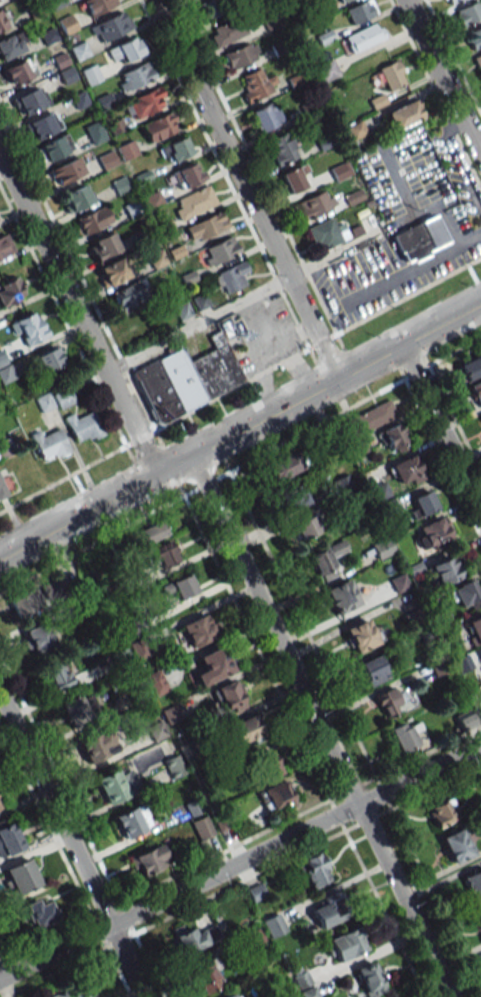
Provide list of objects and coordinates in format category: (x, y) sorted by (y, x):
building: (342, 0)
building: (451, 1)
building: (98, 5)
building: (215, 7)
building: (360, 11)
building: (468, 13)
building: (2, 21)
building: (67, 24)
building: (111, 26)
building: (227, 31)
building: (363, 37)
building: (474, 38)
building: (12, 45)
building: (125, 50)
building: (79, 51)
building: (240, 55)
building: (64, 68)
building: (326, 70)
building: (19, 71)
building: (392, 75)
building: (134, 77)
road: (443, 78)
building: (255, 84)
building: (30, 101)
building: (145, 102)
building: (404, 114)
building: (266, 116)
building: (42, 126)
building: (159, 126)
building: (355, 130)
building: (95, 132)
building: (53, 148)
building: (281, 148)
building: (175, 149)
building: (127, 150)
building: (67, 170)
building: (340, 171)
building: (187, 175)
building: (292, 179)
road: (245, 188)
building: (76, 197)
building: (193, 202)
building: (315, 204)
building: (93, 220)
building: (206, 226)
building: (324, 234)
building: (418, 238)
building: (4, 245)
building: (104, 247)
building: (220, 250)
road: (412, 269)
building: (113, 271)
building: (230, 277)
building: (10, 291)
building: (130, 294)
road: (240, 300)
road: (77, 314)
building: (30, 329)
building: (48, 360)
building: (470, 368)
building: (6, 374)
building: (186, 379)
road: (240, 384)
building: (476, 392)
building: (63, 399)
building: (371, 417)
building: (82, 427)
road: (440, 427)
road: (240, 428)
building: (393, 436)
building: (49, 444)
building: (290, 463)
building: (405, 470)
building: (2, 490)
building: (294, 498)
building: (423, 503)
building: (306, 527)
building: (434, 531)
building: (148, 533)
building: (383, 549)
building: (163, 554)
building: (323, 563)
building: (445, 570)
building: (398, 583)
building: (183, 586)
building: (464, 594)
building: (341, 596)
building: (23, 604)
building: (199, 629)
building: (474, 629)
building: (361, 635)
building: (38, 639)
building: (479, 656)
building: (213, 665)
building: (373, 670)
building: (57, 676)
building: (229, 697)
building: (389, 701)
building: (73, 710)
building: (464, 719)
road: (320, 726)
building: (245, 730)
building: (403, 736)
building: (97, 746)
building: (264, 766)
building: (173, 767)
building: (114, 785)
building: (277, 796)
building: (0, 805)
building: (443, 812)
building: (131, 821)
building: (201, 828)
building: (9, 839)
building: (457, 845)
road: (71, 848)
building: (149, 860)
road: (240, 861)
building: (314, 870)
building: (20, 876)
building: (473, 884)
building: (39, 913)
building: (325, 913)
building: (479, 915)
building: (273, 925)
building: (253, 937)
building: (194, 938)
building: (344, 945)
building: (206, 976)
building: (369, 979)
building: (77, 992)
building: (230, 995)

